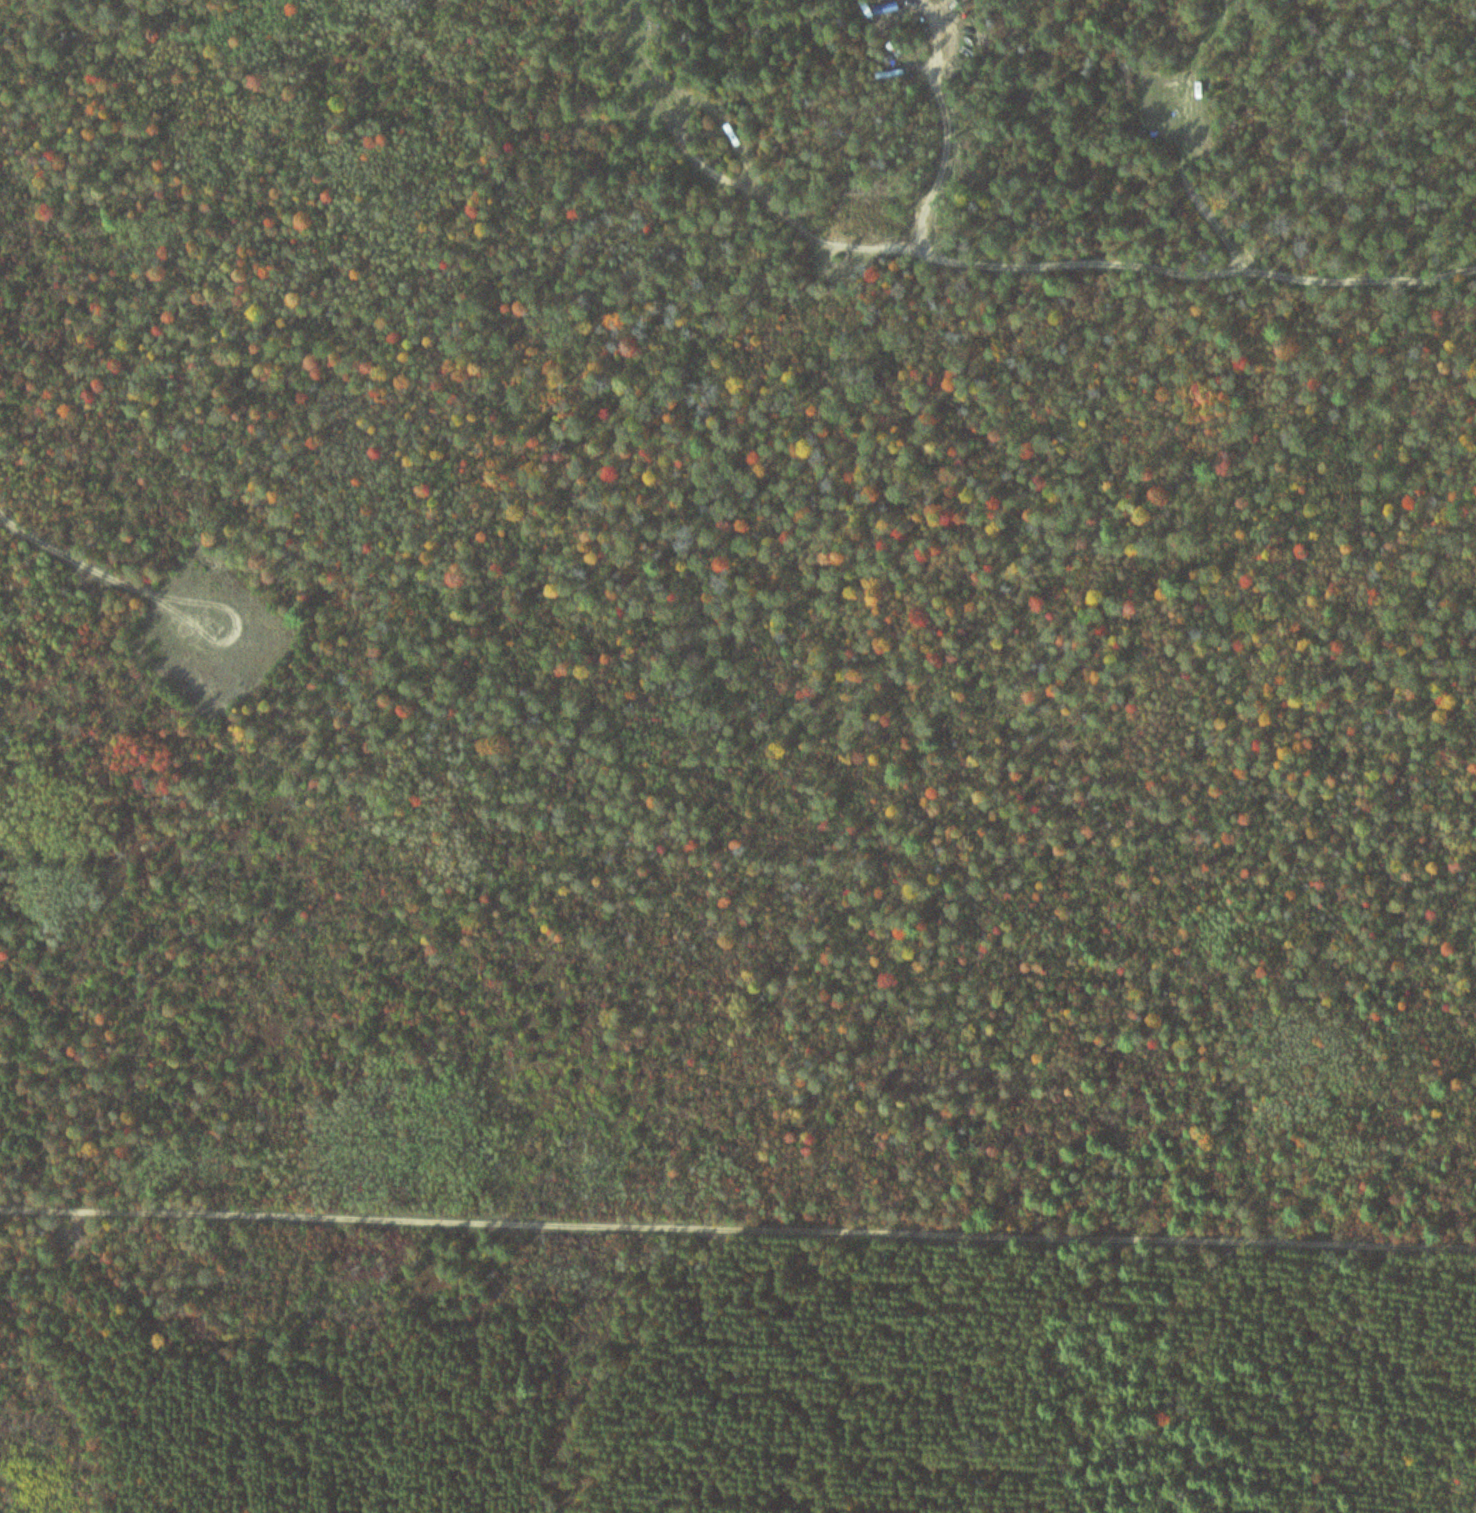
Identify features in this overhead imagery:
building: (1172, 85)
road: (674, 92)
road: (1109, 259)
road: (110, 563)
road: (738, 1237)

